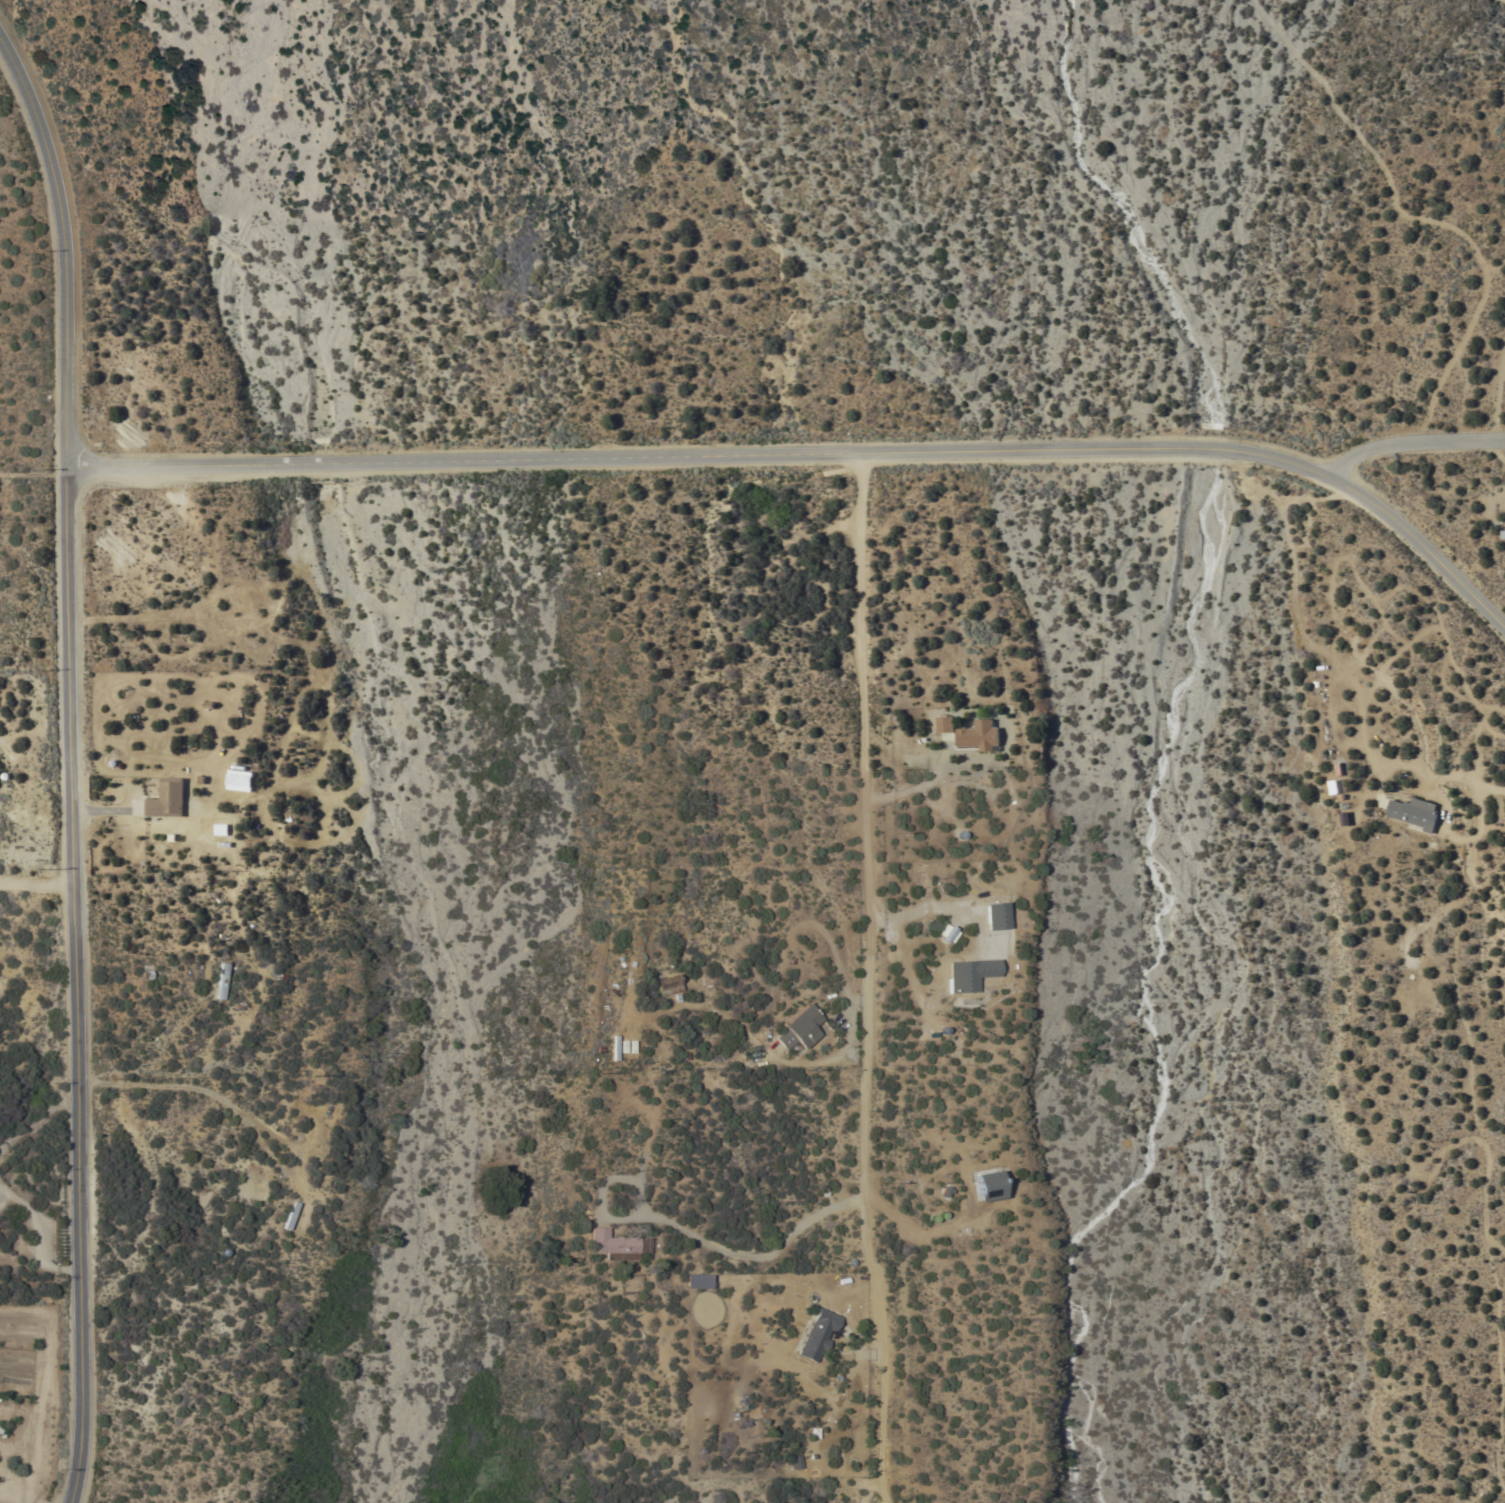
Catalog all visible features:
road: (70, 242)
road: (1413, 444)
road: (708, 456)
road: (1426, 543)
building: (943, 724)
building: (978, 736)
road: (1444, 779)
building: (239, 780)
building: (167, 798)
building: (1413, 812)
building: (221, 829)
road: (39, 884)
road: (936, 908)
building: (996, 916)
building: (946, 934)
building: (970, 975)
road: (867, 979)
building: (222, 981)
road: (78, 983)
building: (669, 984)
building: (799, 1028)
road: (239, 1112)
road: (1490, 1168)
building: (985, 1185)
building: (289, 1216)
building: (613, 1244)
road: (738, 1255)
building: (817, 1334)
road: (1501, 1360)

